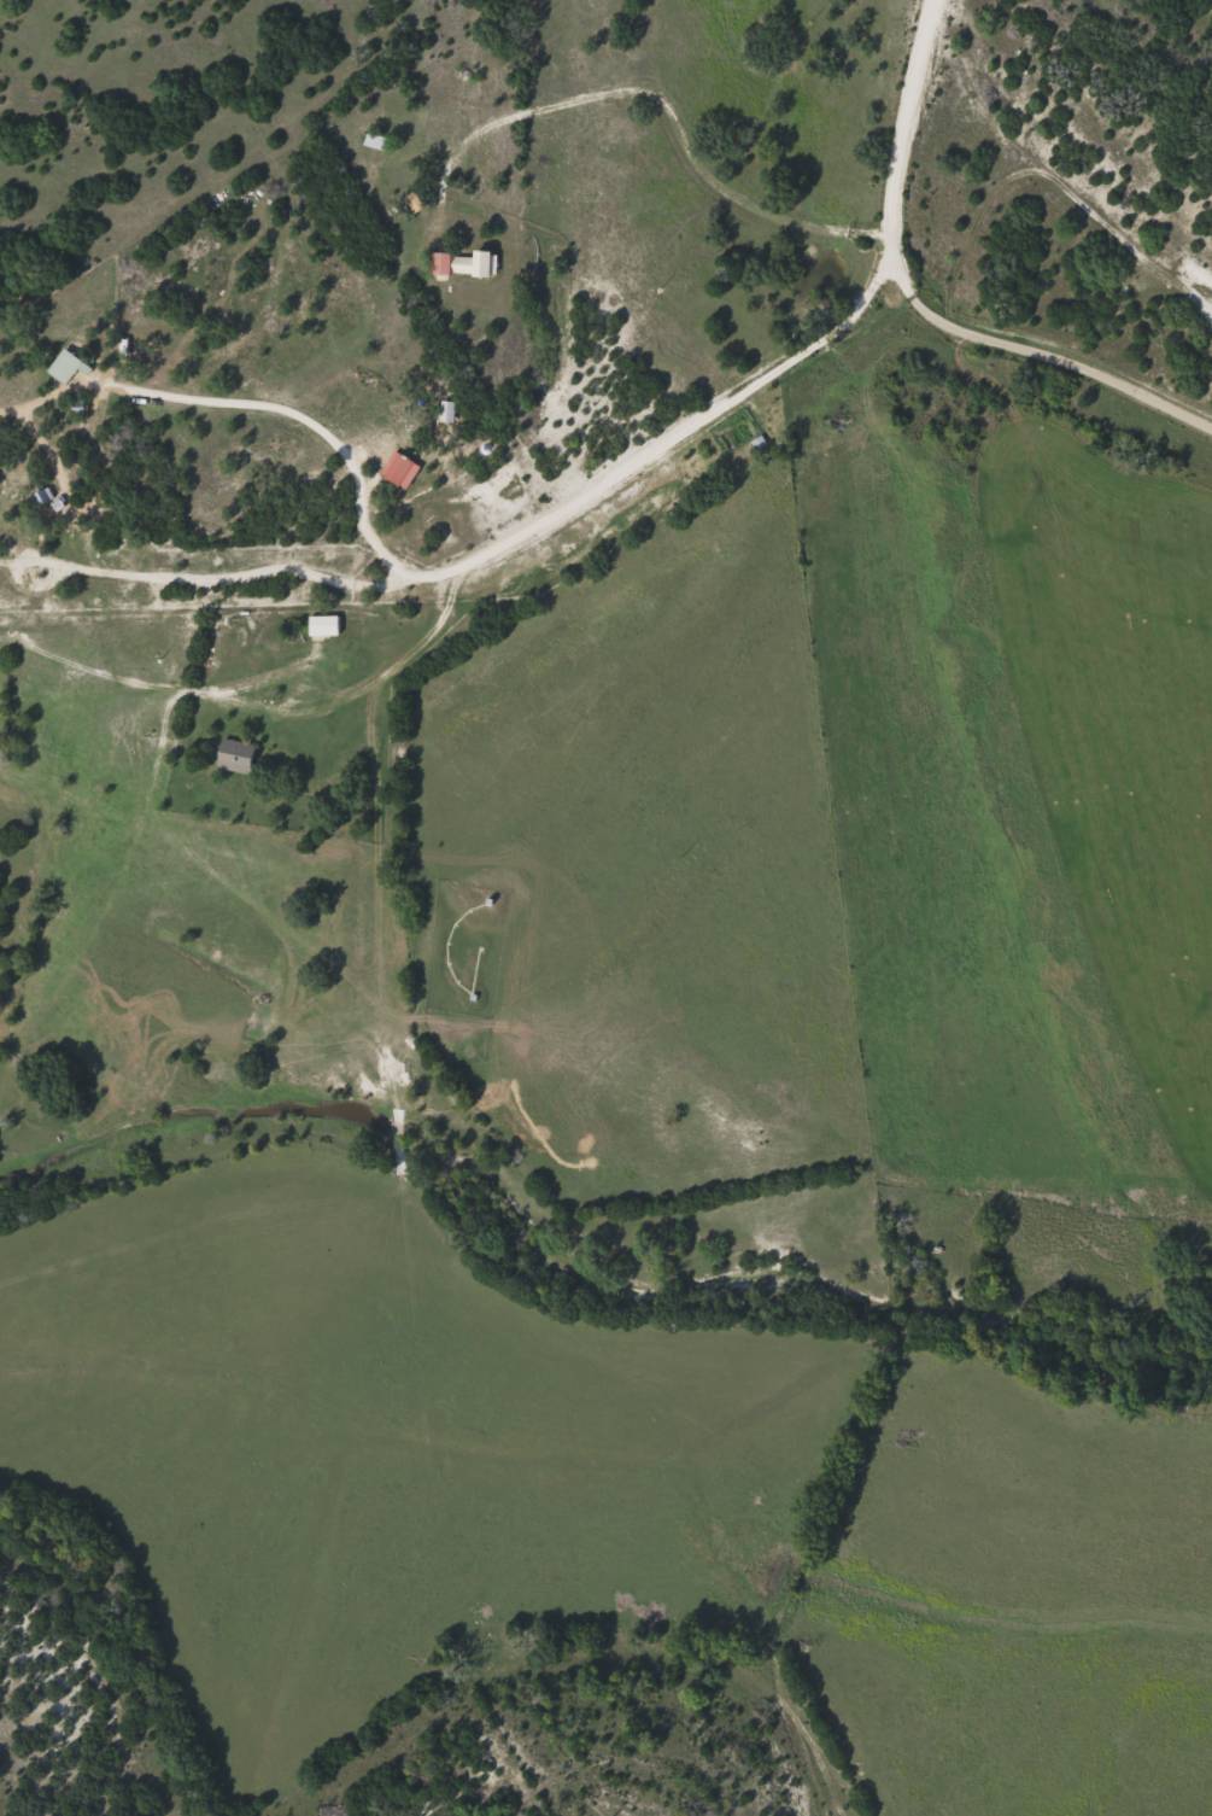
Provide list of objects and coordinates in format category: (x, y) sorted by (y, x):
building: (377, 140)
road: (906, 147)
building: (463, 264)
road: (1067, 352)
building: (65, 366)
building: (447, 411)
building: (400, 468)
road: (538, 532)
building: (324, 625)
building: (236, 754)

